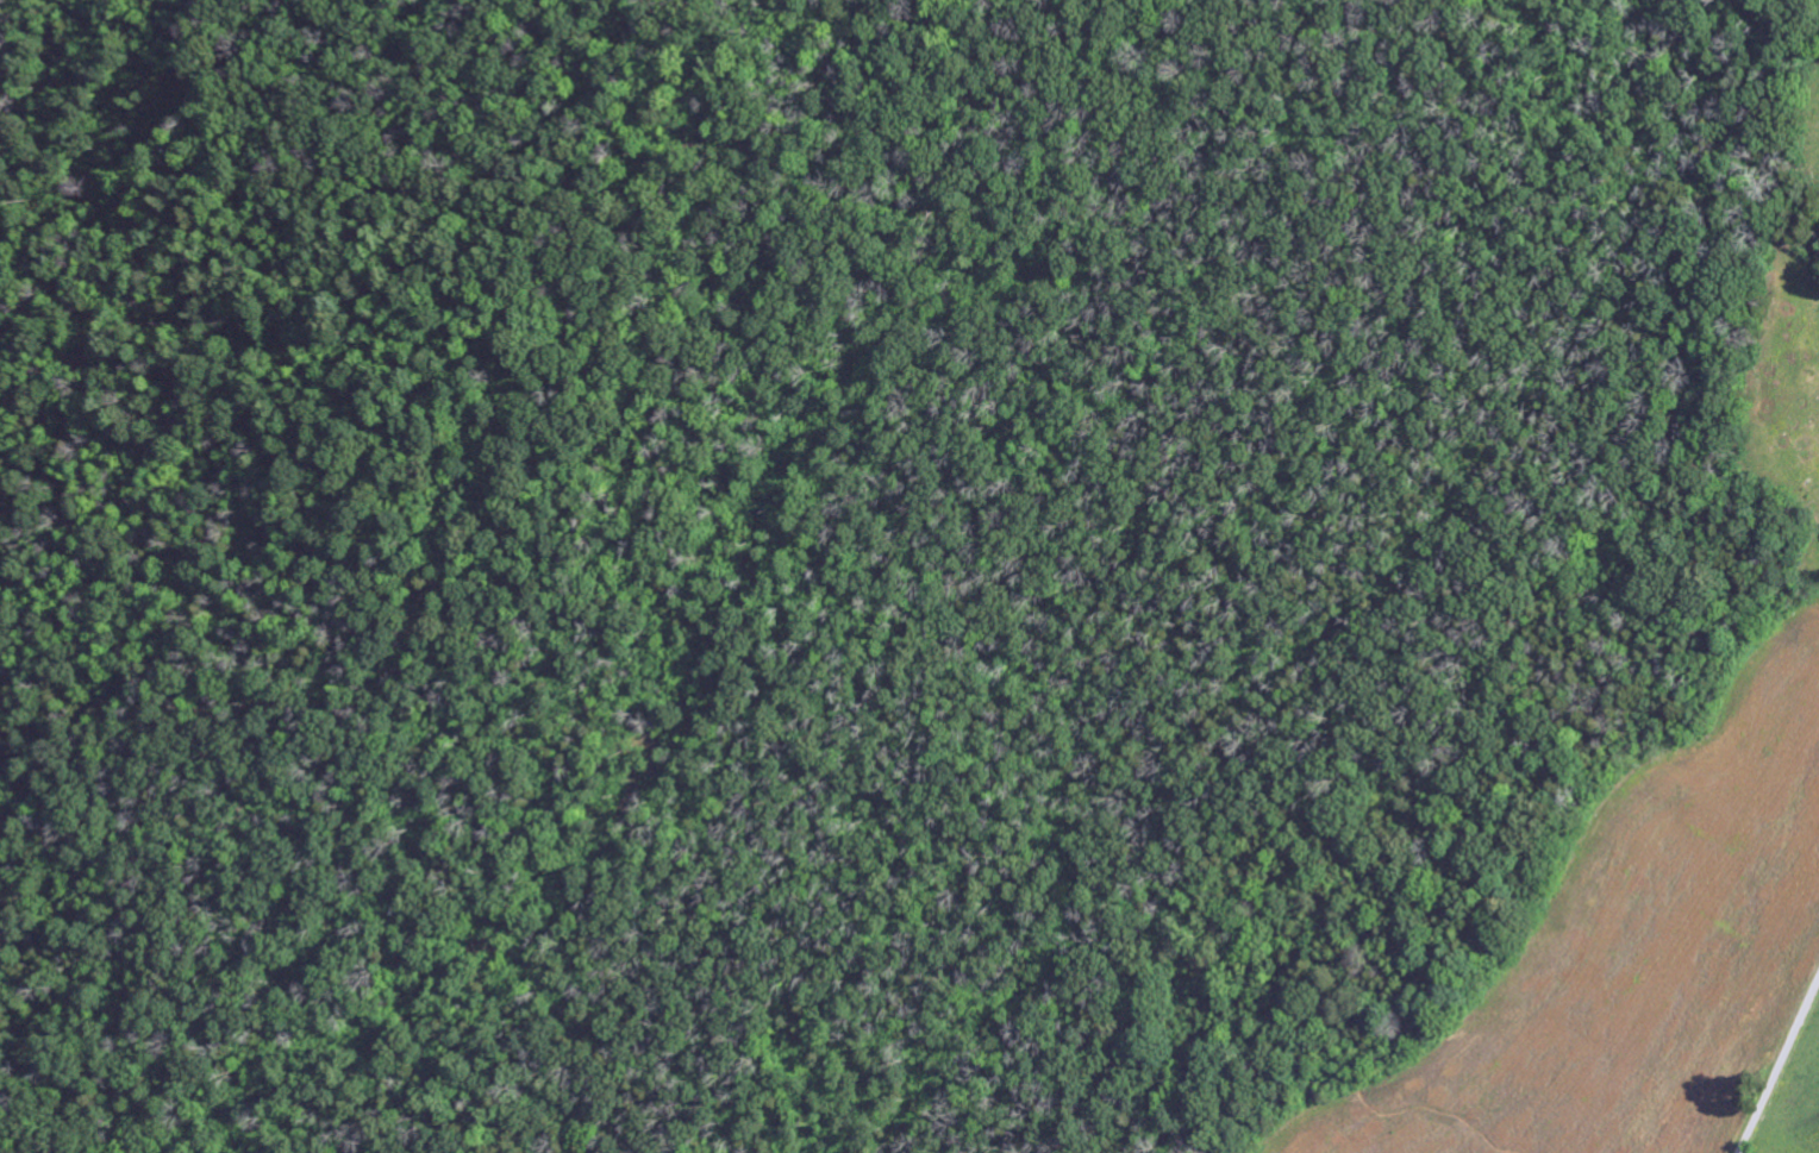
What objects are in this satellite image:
road: (1779, 1065)

